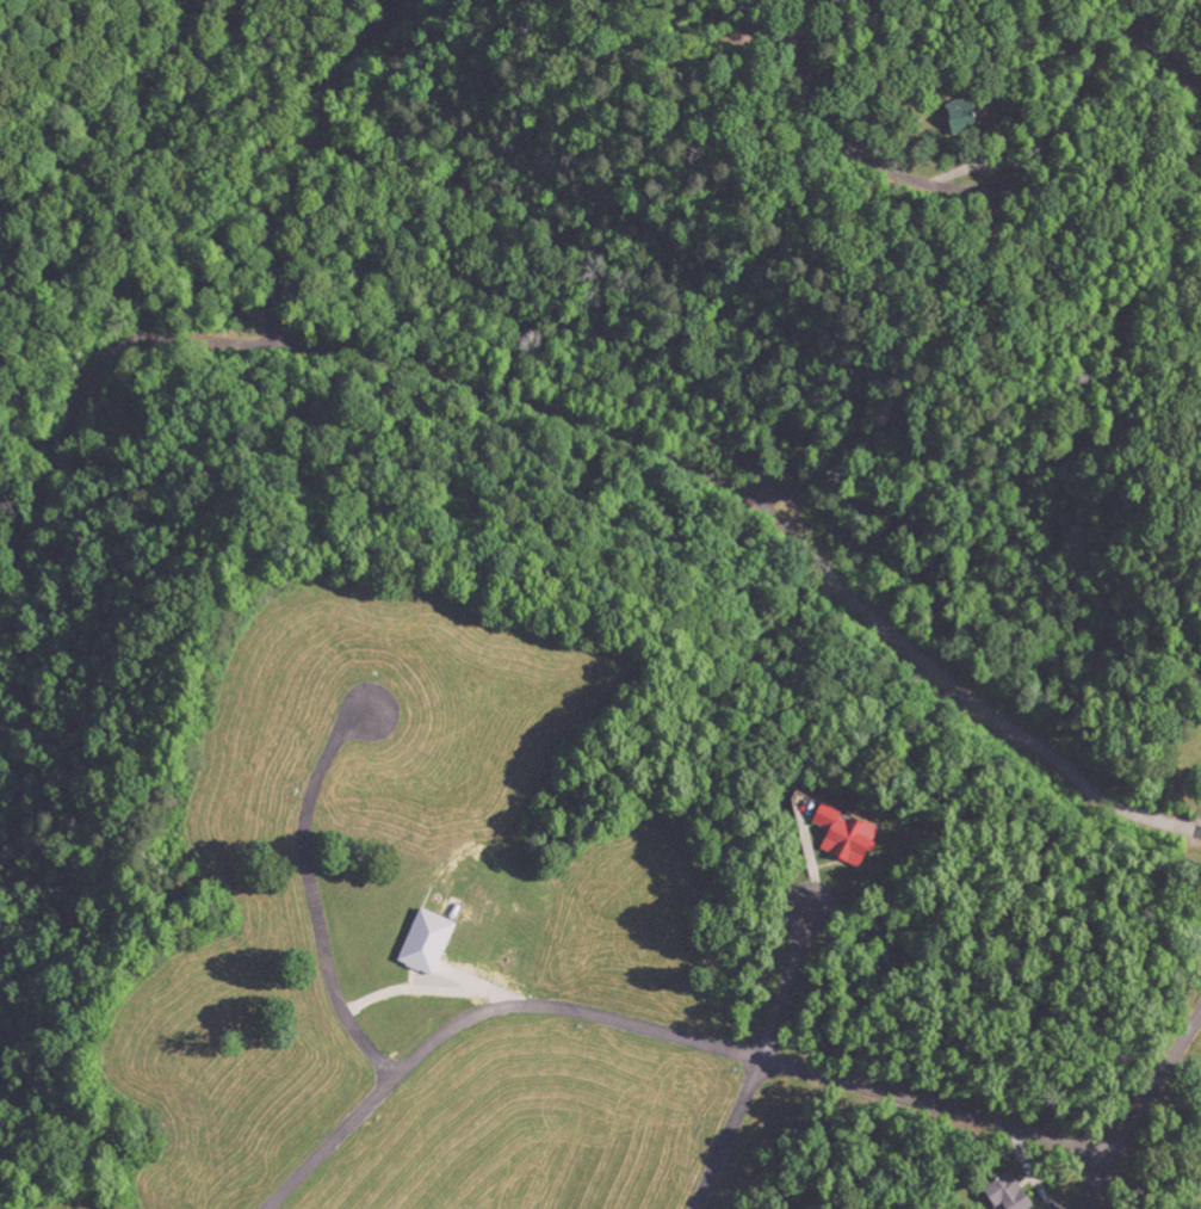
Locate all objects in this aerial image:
road: (1119, 7)
road: (1160, 54)
road: (945, 187)
road: (581, 422)
building: (841, 834)
road: (312, 889)
building: (435, 948)
road: (785, 981)
road: (651, 1026)
road: (1138, 1108)
road: (723, 1131)
building: (1003, 1192)

